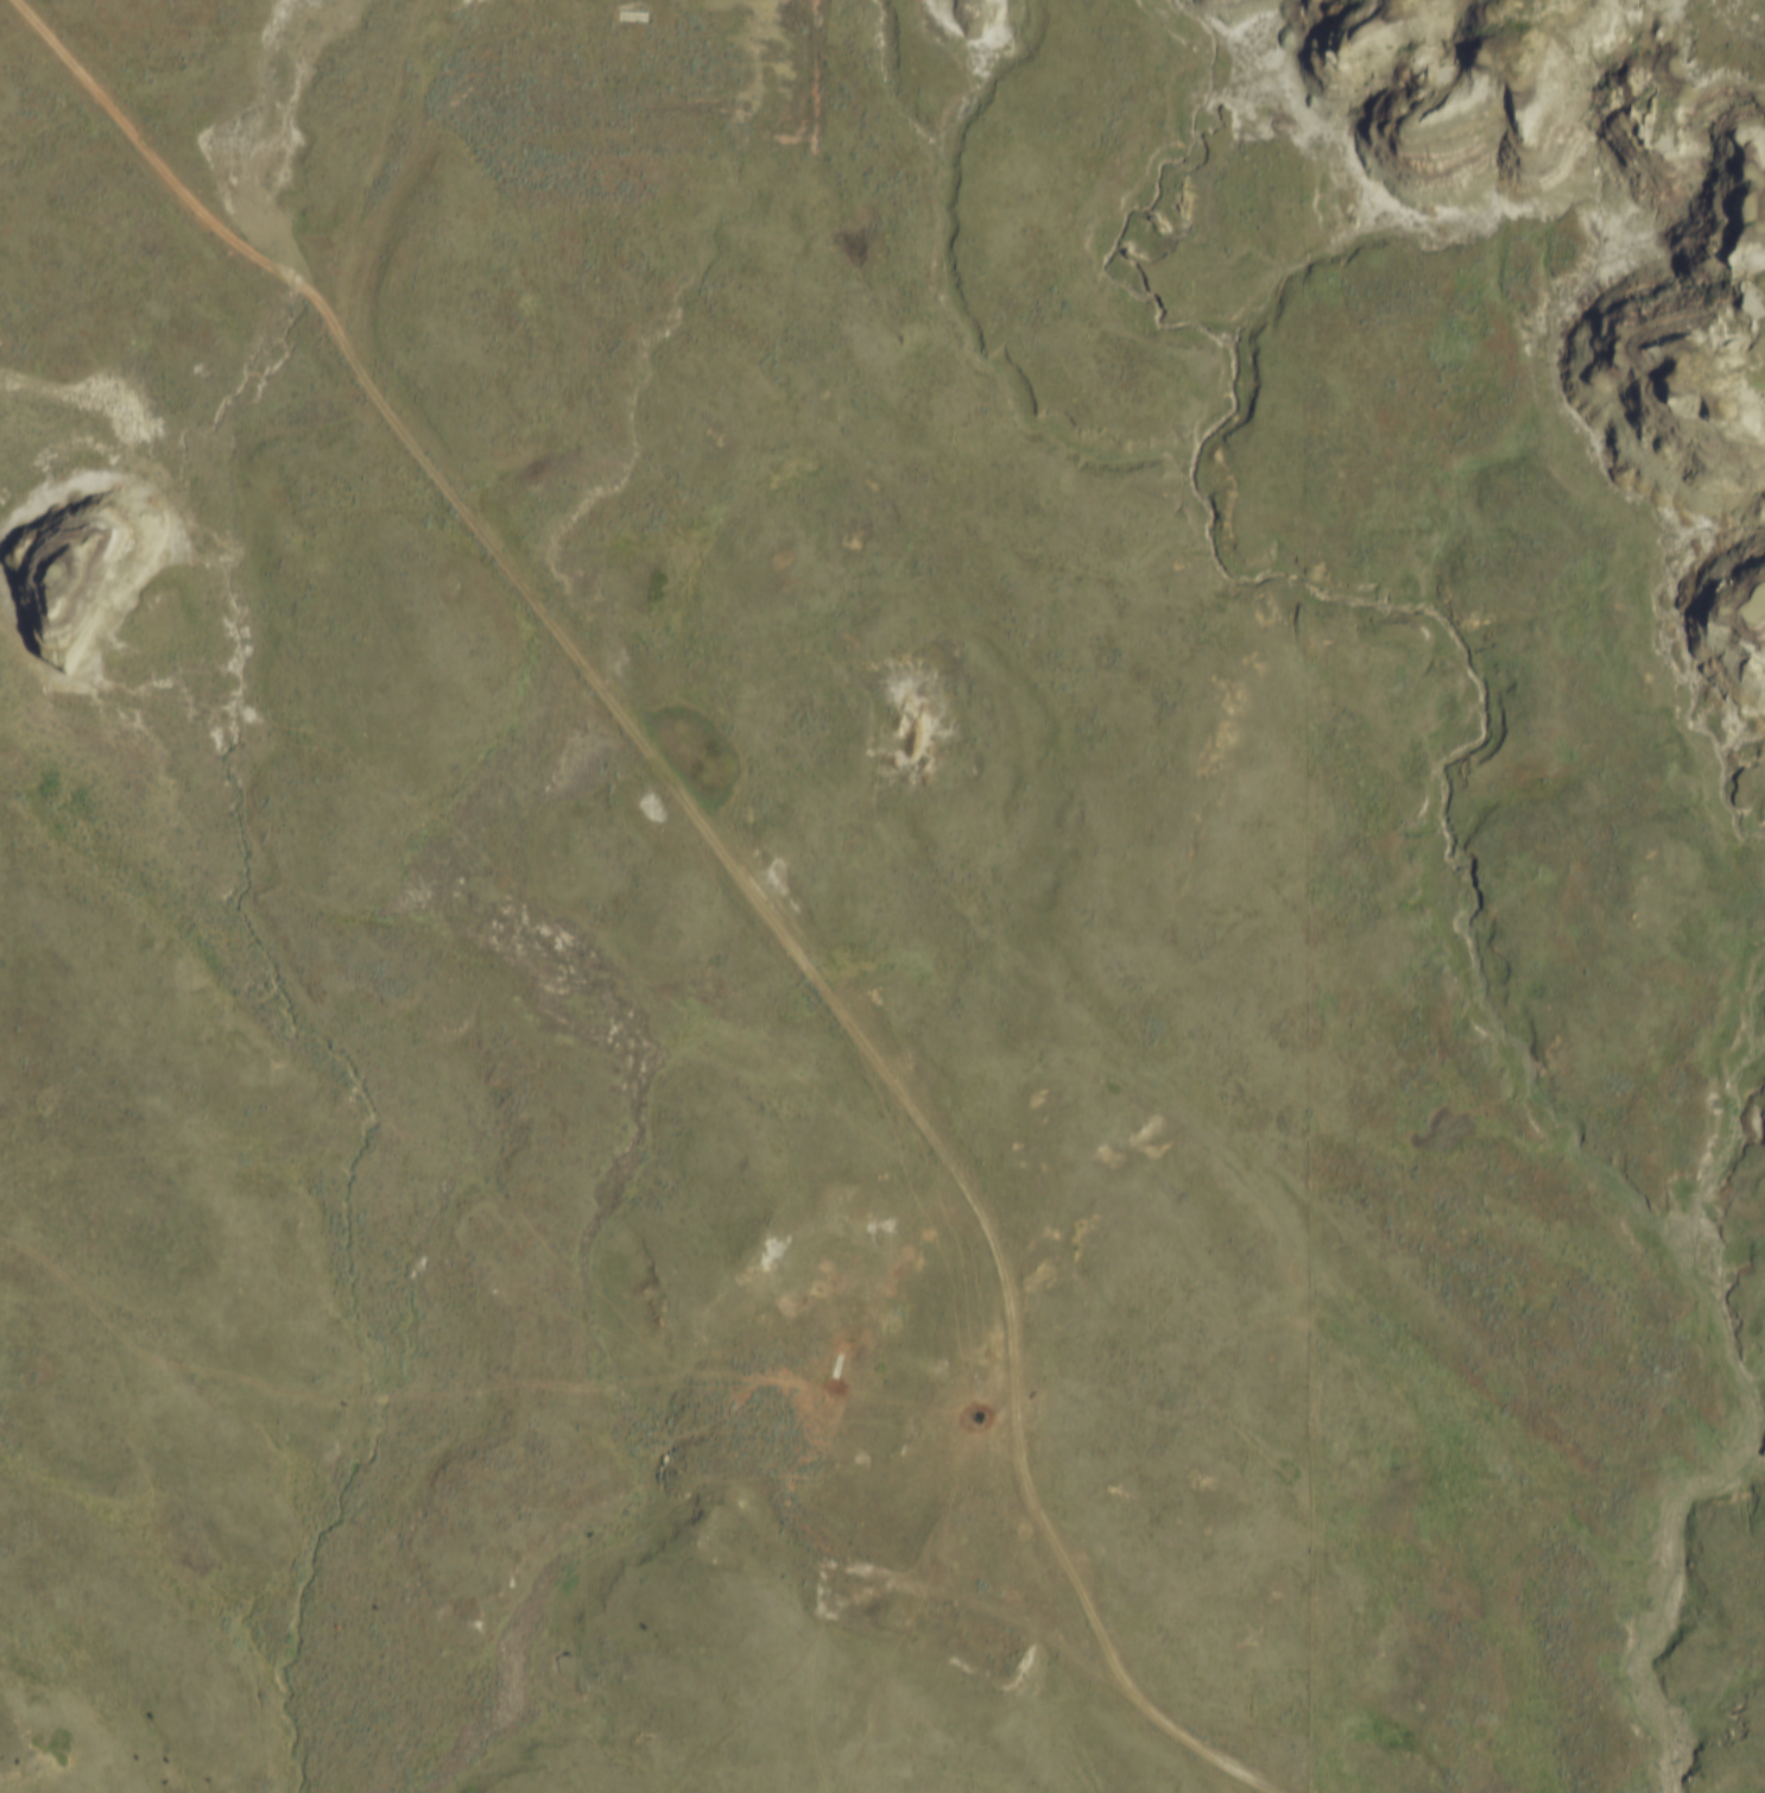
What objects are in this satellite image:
road: (723, 858)

